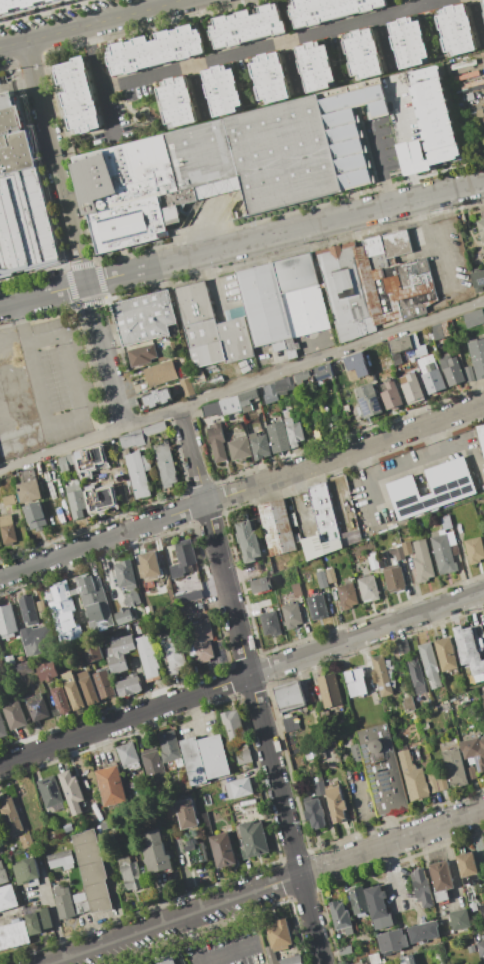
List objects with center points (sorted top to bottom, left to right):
road: (429, 2)
building: (483, 2)
road: (416, 3)
building: (18, 4)
building: (328, 10)
road: (90, 22)
building: (247, 26)
building: (456, 30)
road: (273, 42)
building: (408, 42)
building: (153, 50)
building: (362, 53)
building: (315, 66)
building: (465, 73)
road: (99, 78)
building: (270, 78)
building: (222, 90)
building: (78, 96)
building: (176, 102)
road: (397, 110)
building: (433, 115)
building: (483, 115)
building: (350, 132)
road: (407, 158)
building: (411, 158)
road: (379, 169)
building: (205, 171)
road: (414, 187)
building: (21, 197)
building: (481, 228)
road: (74, 233)
road: (435, 242)
road: (241, 243)
building: (394, 277)
building: (478, 280)
road: (212, 285)
building: (347, 292)
building: (301, 294)
building: (194, 303)
building: (263, 304)
building: (237, 312)
building: (144, 317)
building: (474, 318)
road: (21, 322)
building: (445, 329)
building: (437, 332)
building: (201, 333)
building: (235, 339)
road: (13, 345)
building: (285, 346)
building: (399, 348)
building: (377, 349)
building: (141, 354)
building: (207, 354)
building: (477, 356)
building: (356, 364)
building: (451, 369)
building: (160, 372)
building: (322, 372)
building: (469, 373)
building: (302, 376)
road: (16, 377)
building: (432, 378)
building: (198, 379)
road: (36, 385)
parking lot: (43, 385)
road: (242, 385)
building: (283, 385)
building: (412, 389)
building: (270, 393)
building: (391, 395)
building: (155, 398)
road: (74, 399)
building: (247, 399)
building: (368, 400)
building: (222, 407)
building: (294, 432)
building: (141, 434)
building: (481, 435)
building: (277, 436)
building: (316, 436)
road: (430, 440)
building: (216, 442)
building: (259, 445)
building: (239, 448)
building: (88, 458)
building: (65, 462)
building: (146, 462)
building: (165, 463)
road: (411, 463)
road: (357, 466)
building: (137, 474)
building: (28, 486)
building: (432, 488)
road: (242, 491)
building: (99, 497)
building: (8, 500)
building: (77, 501)
building: (35, 516)
building: (446, 522)
building: (322, 525)
building: (276, 527)
building: (7, 530)
building: (483, 534)
building: (451, 537)
building: (247, 539)
building: (406, 548)
building: (474, 550)
building: (397, 553)
building: (443, 554)
building: (183, 557)
building: (422, 561)
building: (373, 562)
building: (149, 565)
building: (125, 575)
building: (330, 575)
building: (321, 578)
building: (394, 579)
building: (260, 585)
building: (368, 588)
building: (296, 590)
building: (347, 595)
building: (189, 596)
building: (92, 598)
building: (132, 599)
building: (264, 605)
building: (41, 606)
building: (62, 606)
building: (317, 608)
building: (28, 610)
building: (292, 615)
building: (124, 617)
building: (7, 622)
building: (270, 623)
building: (38, 639)
building: (201, 641)
building: (468, 649)
building: (120, 653)
building: (174, 653)
building: (445, 653)
building: (93, 654)
building: (148, 657)
building: (10, 660)
building: (429, 664)
building: (21, 670)
building: (47, 671)
building: (382, 675)
building: (416, 675)
road: (241, 677)
building: (355, 681)
building: (104, 683)
road: (253, 685)
building: (129, 686)
building: (88, 687)
building: (73, 690)
building: (330, 690)
building: (289, 696)
building: (482, 699)
building: (61, 700)
building: (37, 706)
building: (15, 714)
road: (191, 714)
building: (291, 723)
building: (3, 727)
building: (233, 727)
building: (170, 748)
building: (474, 751)
building: (128, 756)
building: (214, 756)
building: (244, 757)
building: (194, 762)
building: (153, 766)
building: (454, 766)
building: (381, 768)
building: (471, 773)
building: (412, 777)
building: (432, 781)
building: (441, 782)
building: (110, 785)
building: (241, 788)
building: (319, 788)
building: (71, 789)
building: (50, 791)
building: (336, 804)
road: (364, 811)
building: (314, 812)
building: (186, 814)
building: (10, 816)
building: (253, 839)
building: (26, 841)
road: (391, 842)
building: (0, 850)
building: (222, 850)
building: (196, 851)
building: (156, 853)
building: (61, 859)
road: (451, 863)
road: (395, 866)
building: (467, 867)
building: (27, 870)
building: (92, 870)
building: (130, 872)
building: (3, 874)
building: (440, 875)
building: (422, 887)
building: (442, 895)
building: (470, 896)
building: (7, 897)
building: (358, 900)
building: (63, 902)
building: (81, 907)
building: (378, 907)
building: (482, 909)
building: (341, 918)
road: (178, 919)
building: (459, 919)
building: (38, 921)
road: (55, 921)
building: (425, 933)
building: (14, 935)
building: (279, 935)
building: (392, 942)
building: (480, 948)
building: (345, 950)
building: (270, 955)
building: (375, 958)
road: (203, 959)
building: (407, 959)
building: (165, 960)
building: (292, 960)

